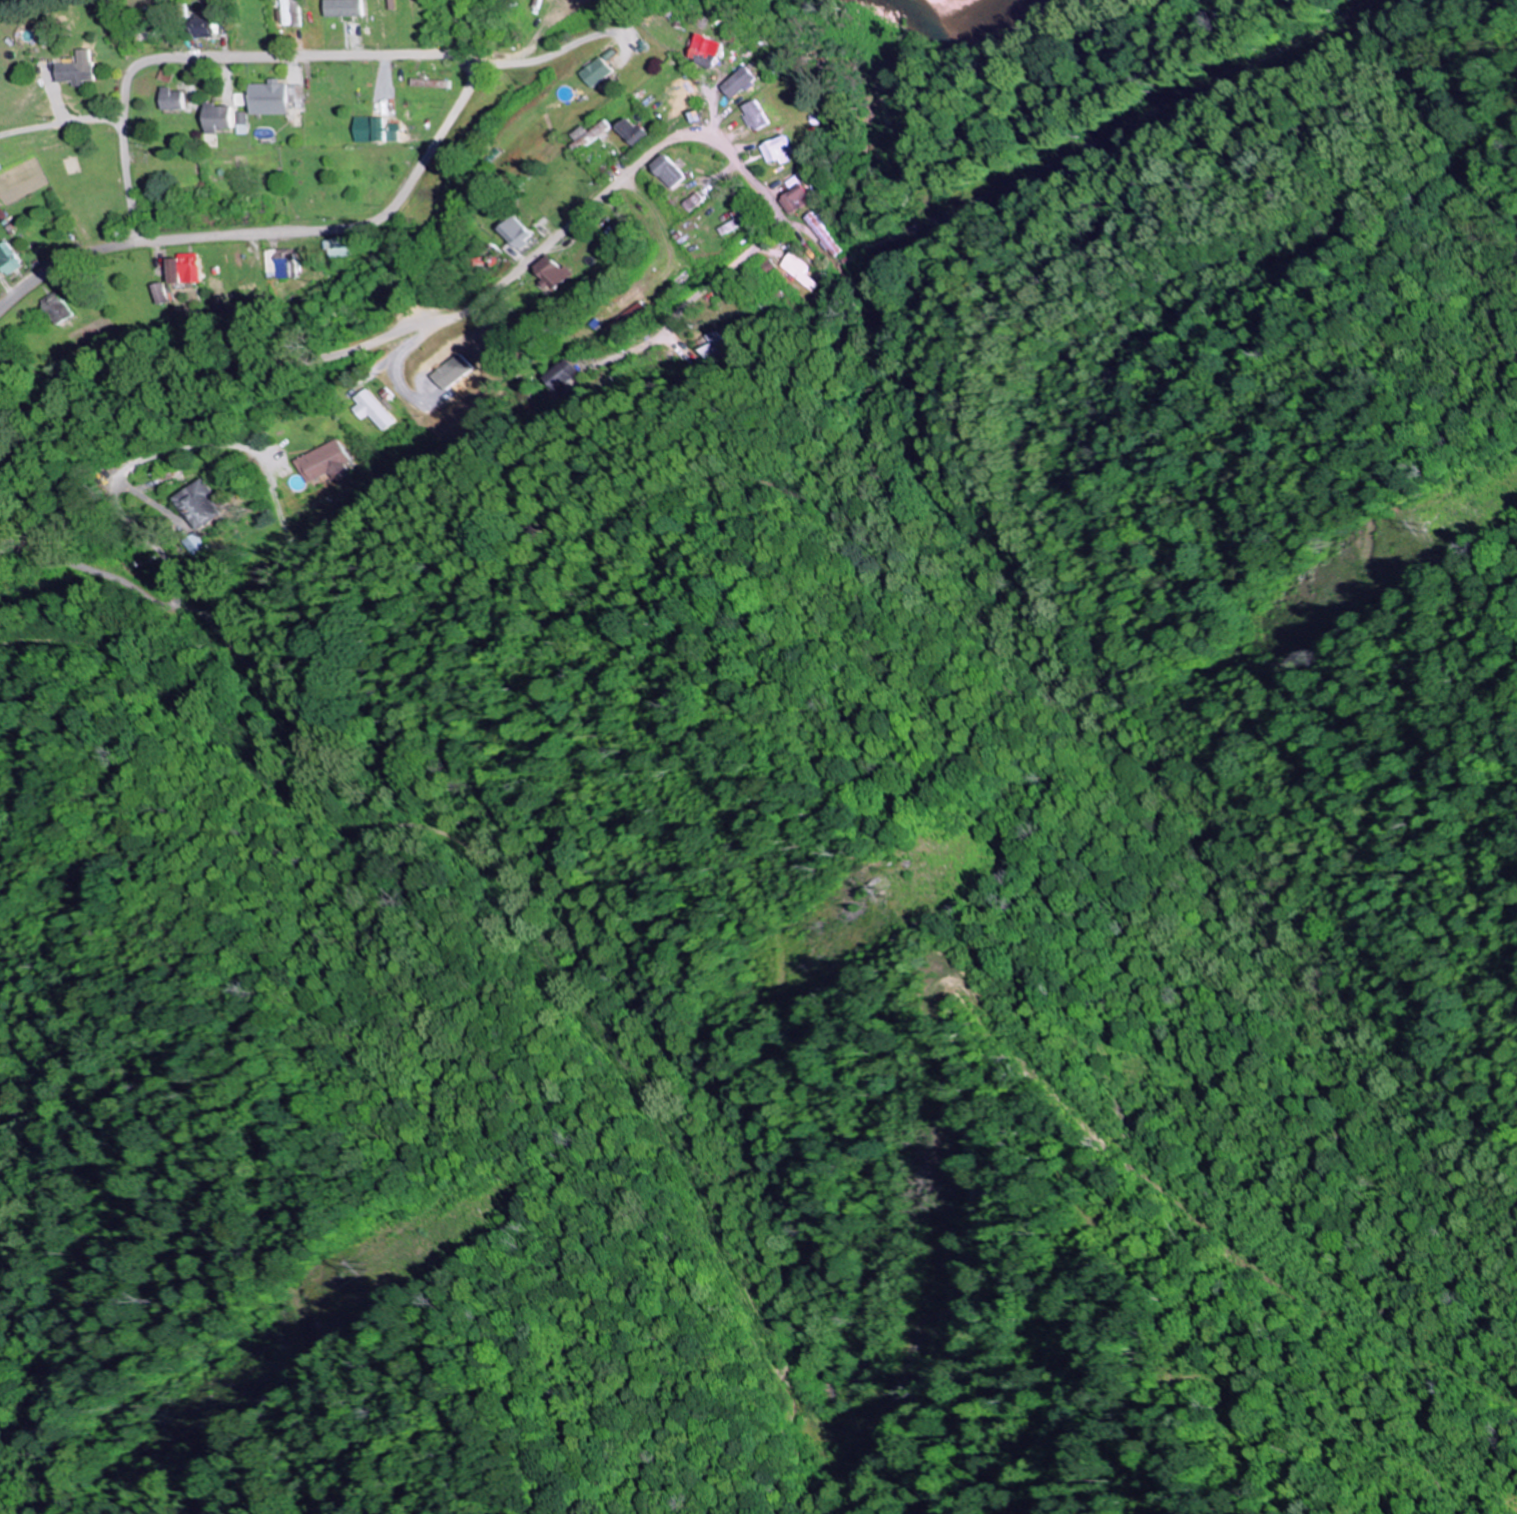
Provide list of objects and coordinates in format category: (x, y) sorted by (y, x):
building: (345, 8)
building: (286, 12)
river: (956, 19)
building: (209, 27)
building: (700, 51)
building: (587, 73)
building: (163, 77)
building: (425, 83)
building: (734, 83)
building: (171, 99)
road: (441, 114)
building: (751, 115)
building: (369, 130)
building: (625, 131)
building: (584, 135)
building: (774, 151)
building: (662, 171)
building: (794, 199)
building: (688, 202)
road: (127, 214)
building: (730, 224)
building: (824, 232)
building: (509, 233)
building: (328, 247)
building: (8, 259)
building: (179, 269)
building: (797, 271)
building: (544, 273)
road: (495, 285)
building: (154, 293)
building: (51, 308)
building: (629, 313)
building: (713, 344)
building: (450, 372)
building: (557, 374)
building: (368, 410)
building: (320, 463)
building: (204, 505)
power tower: (1423, 528)
road: (164, 591)
power tower: (879, 896)
power tower: (379, 1268)

